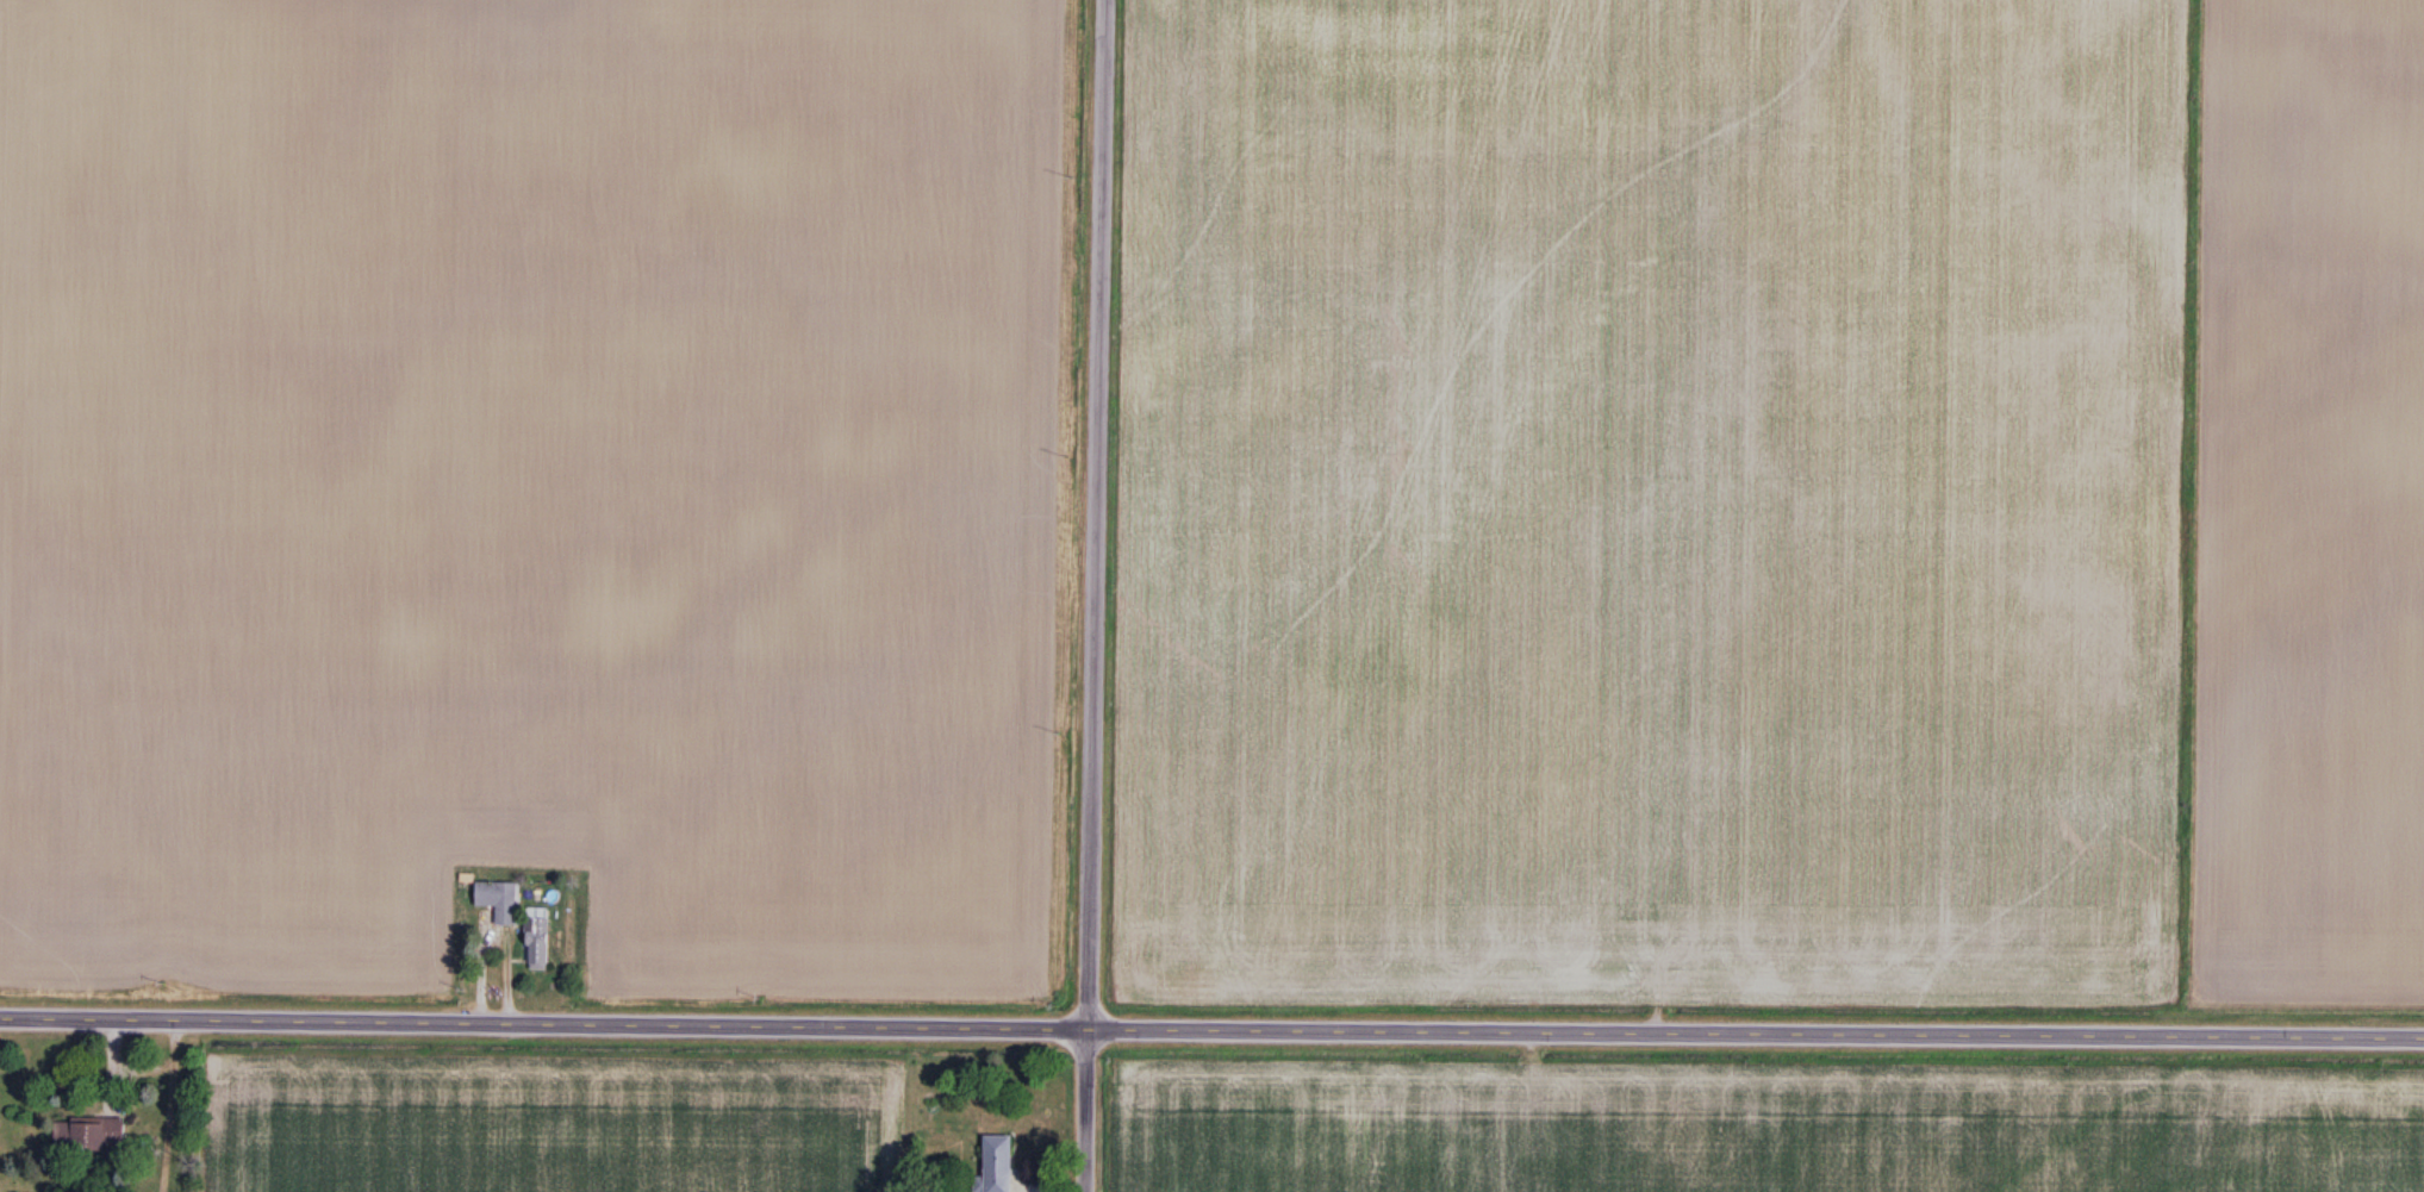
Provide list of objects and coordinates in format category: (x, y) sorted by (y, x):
road: (1090, 595)
building: (499, 900)
building: (540, 944)
road: (1211, 1024)
road: (168, 1103)
building: (89, 1135)
building: (998, 1163)

